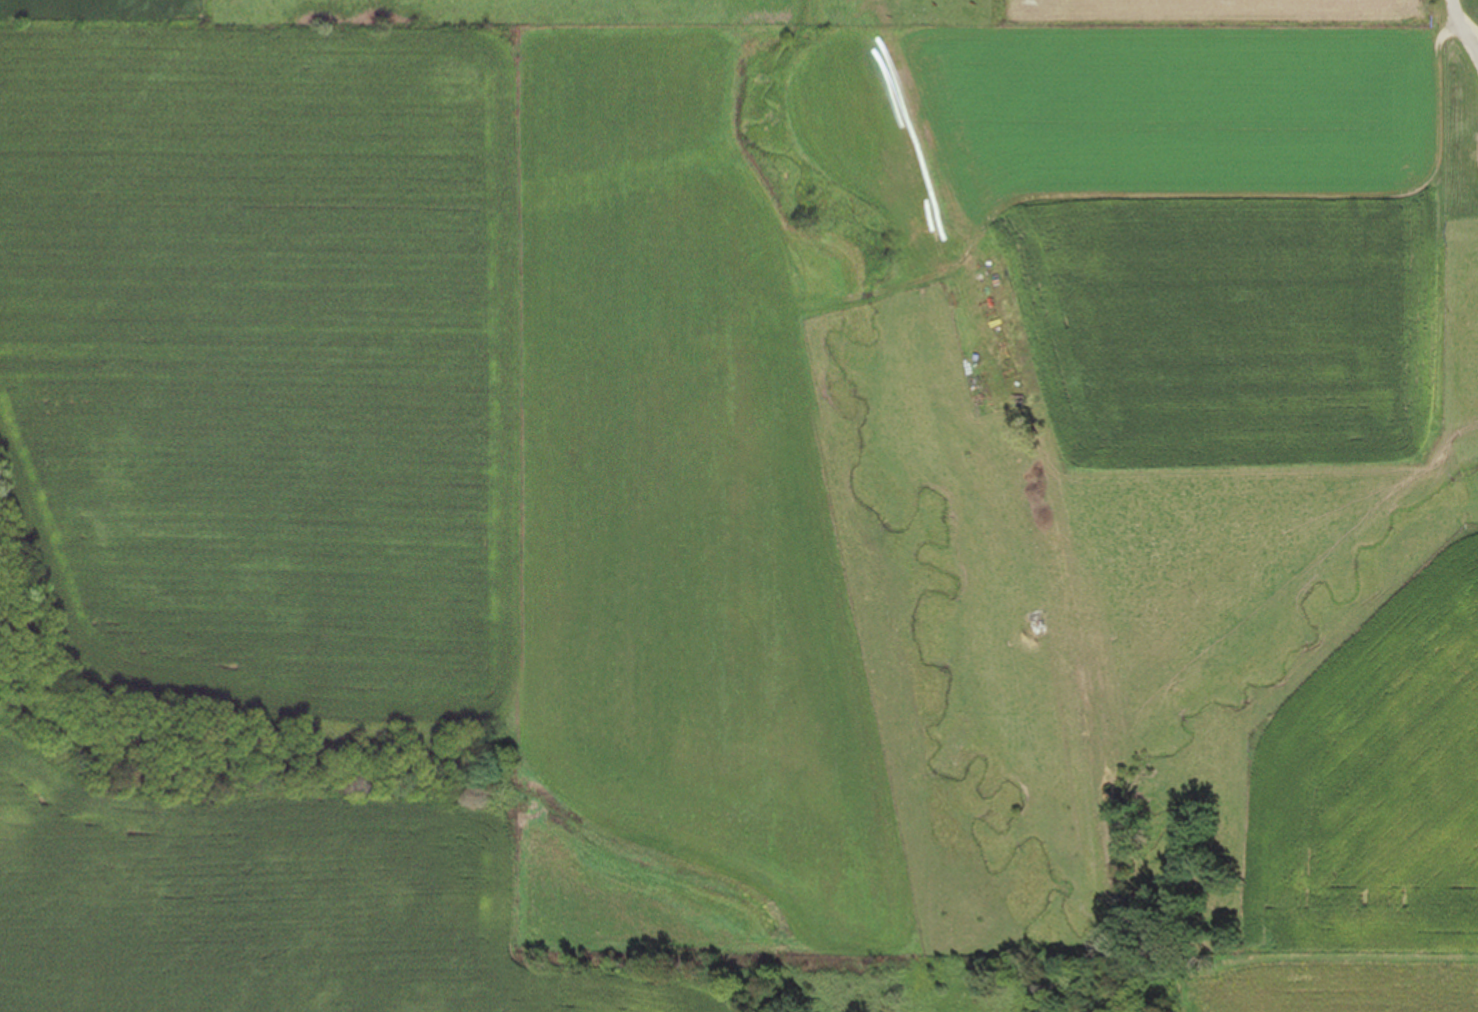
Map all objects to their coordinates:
road: (1454, 36)

